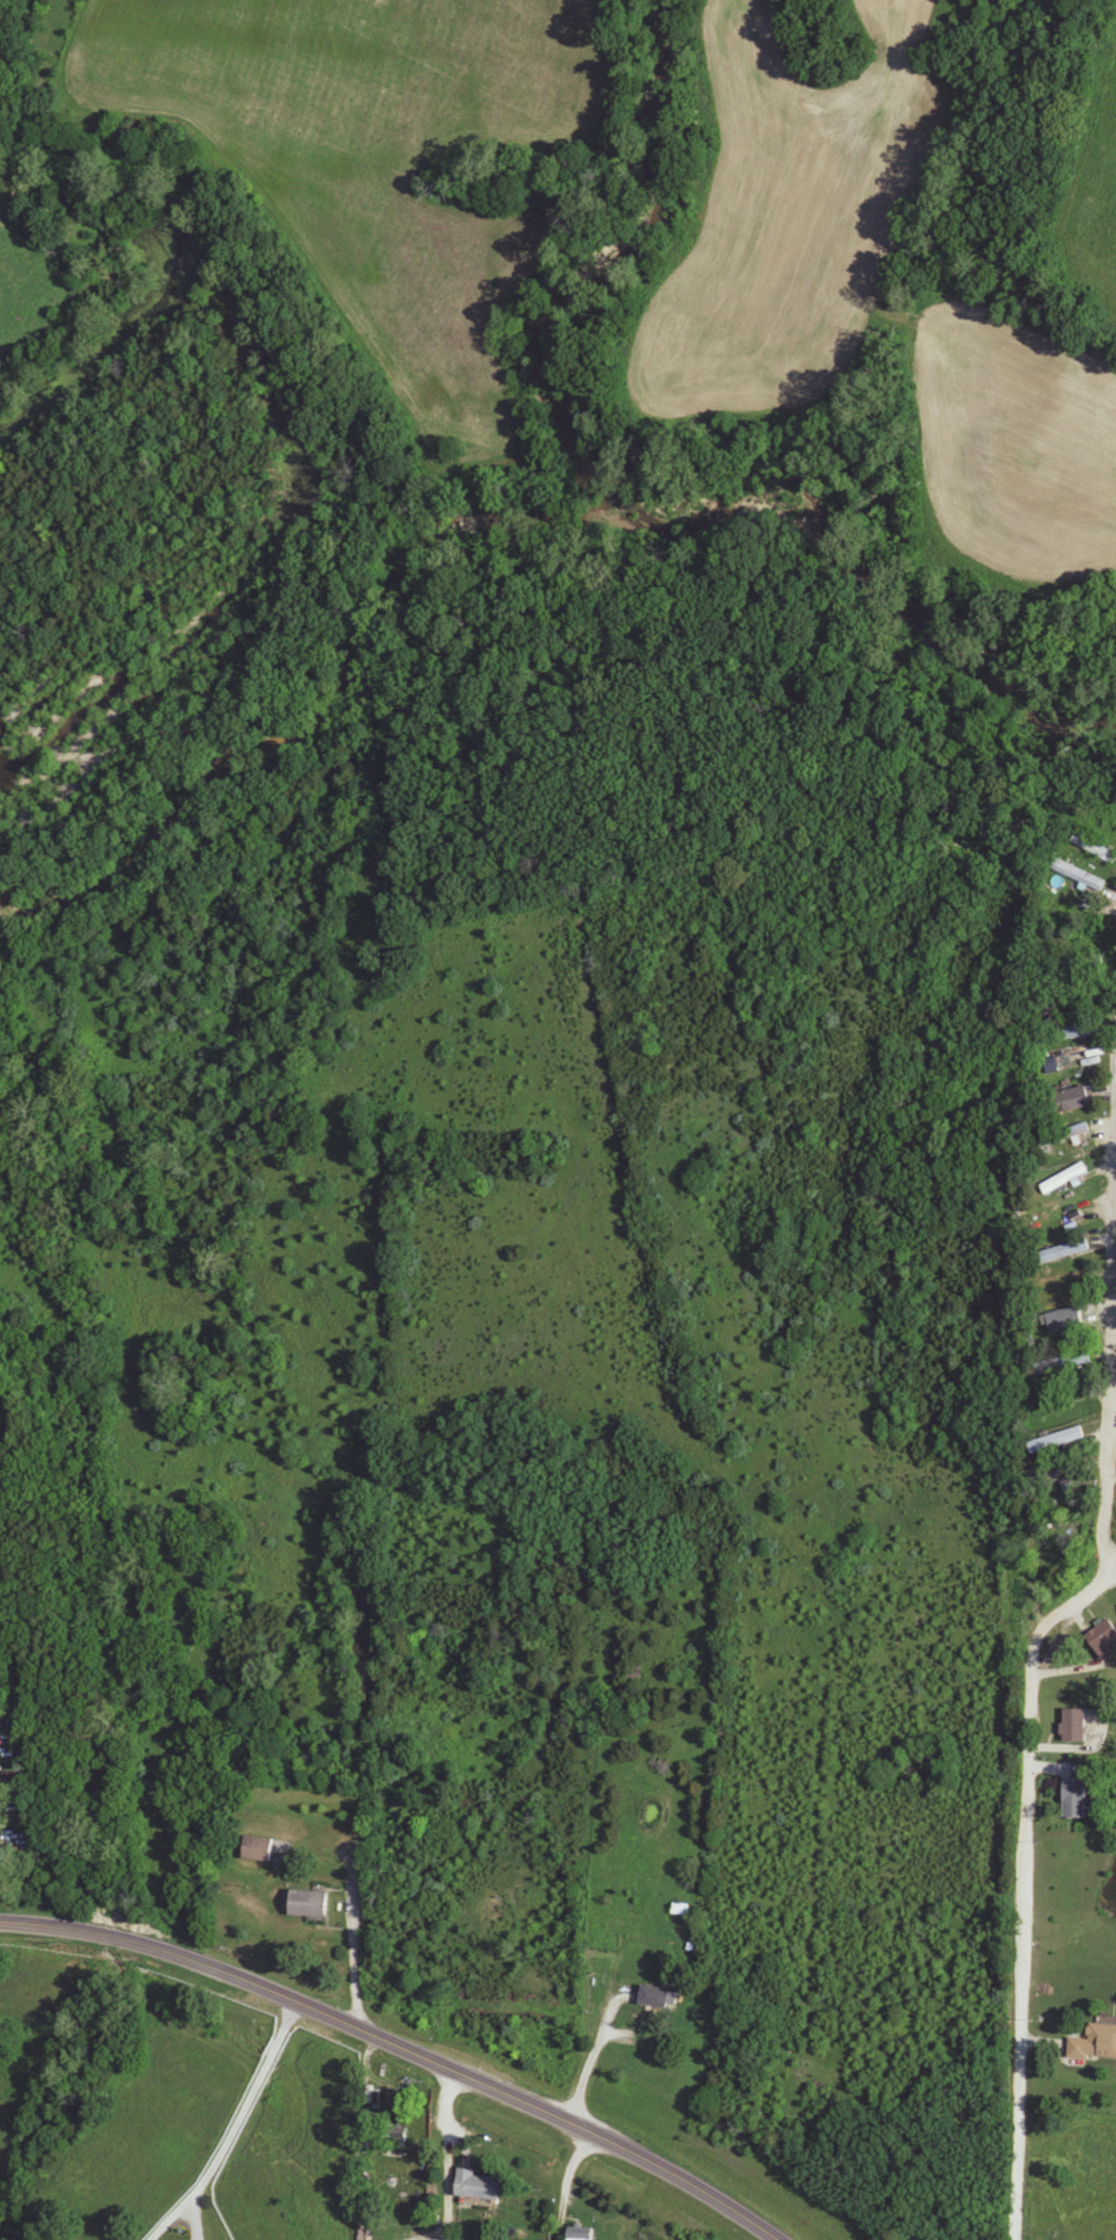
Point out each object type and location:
building: (1094, 849)
building: (1079, 870)
building: (1069, 966)
building: (1067, 1034)
building: (1070, 1101)
building: (1062, 1135)
building: (1063, 1179)
building: (1061, 1252)
road: (1112, 1322)
building: (1065, 1324)
building: (1061, 1363)
building: (1058, 1441)
building: (1056, 1476)
building: (1105, 1641)
building: (1075, 1725)
building: (1078, 1799)
building: (257, 1849)
road: (1024, 1888)
building: (310, 1903)
road: (369, 1950)
building: (658, 1997)
building: (1095, 2044)
road: (396, 2050)
road: (587, 2065)
road: (230, 2129)
building: (394, 2145)
building: (477, 2186)
building: (579, 2234)

